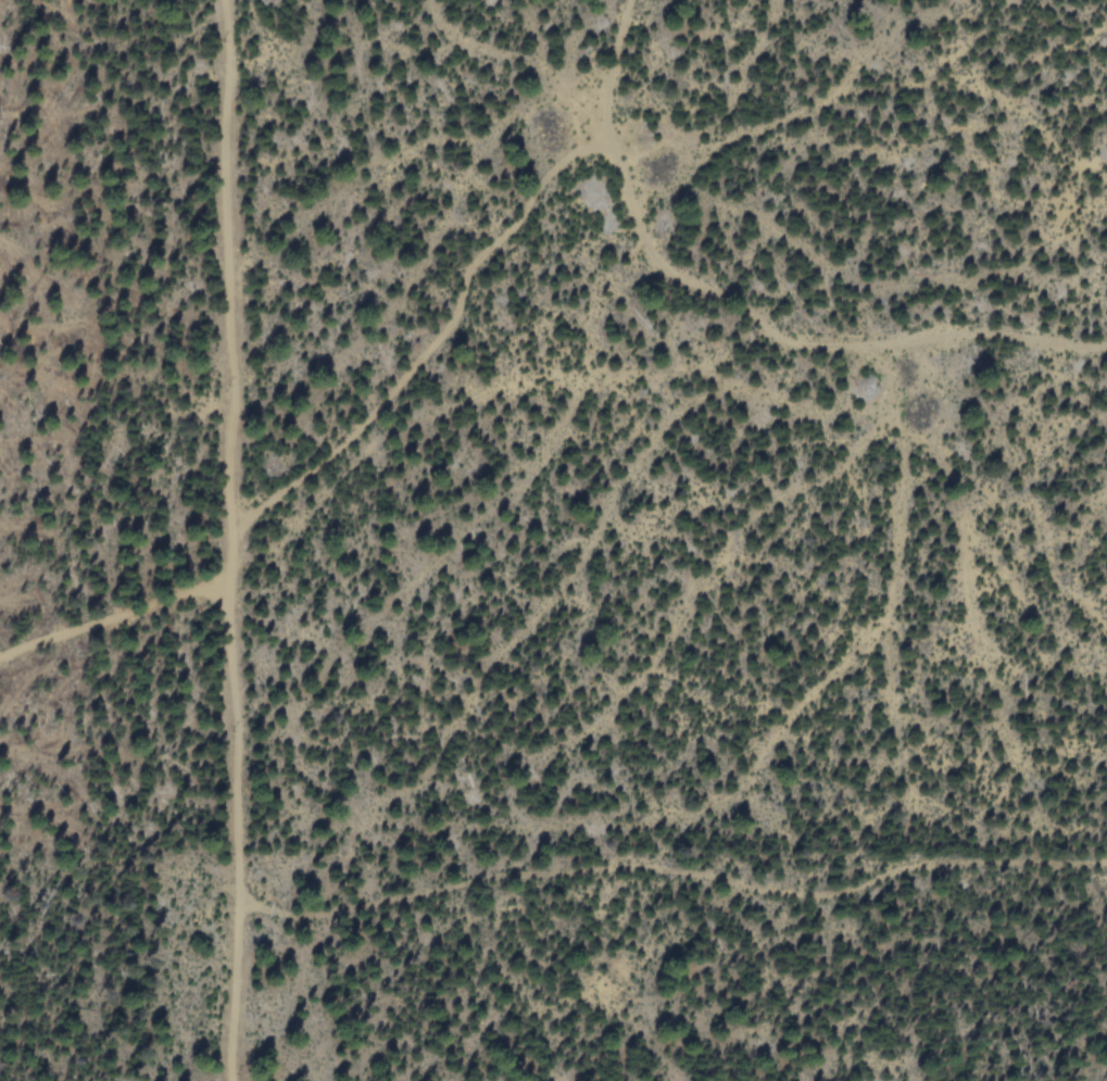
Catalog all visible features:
road: (738, 318)
road: (439, 347)
road: (231, 540)
road: (111, 620)
road: (676, 879)

